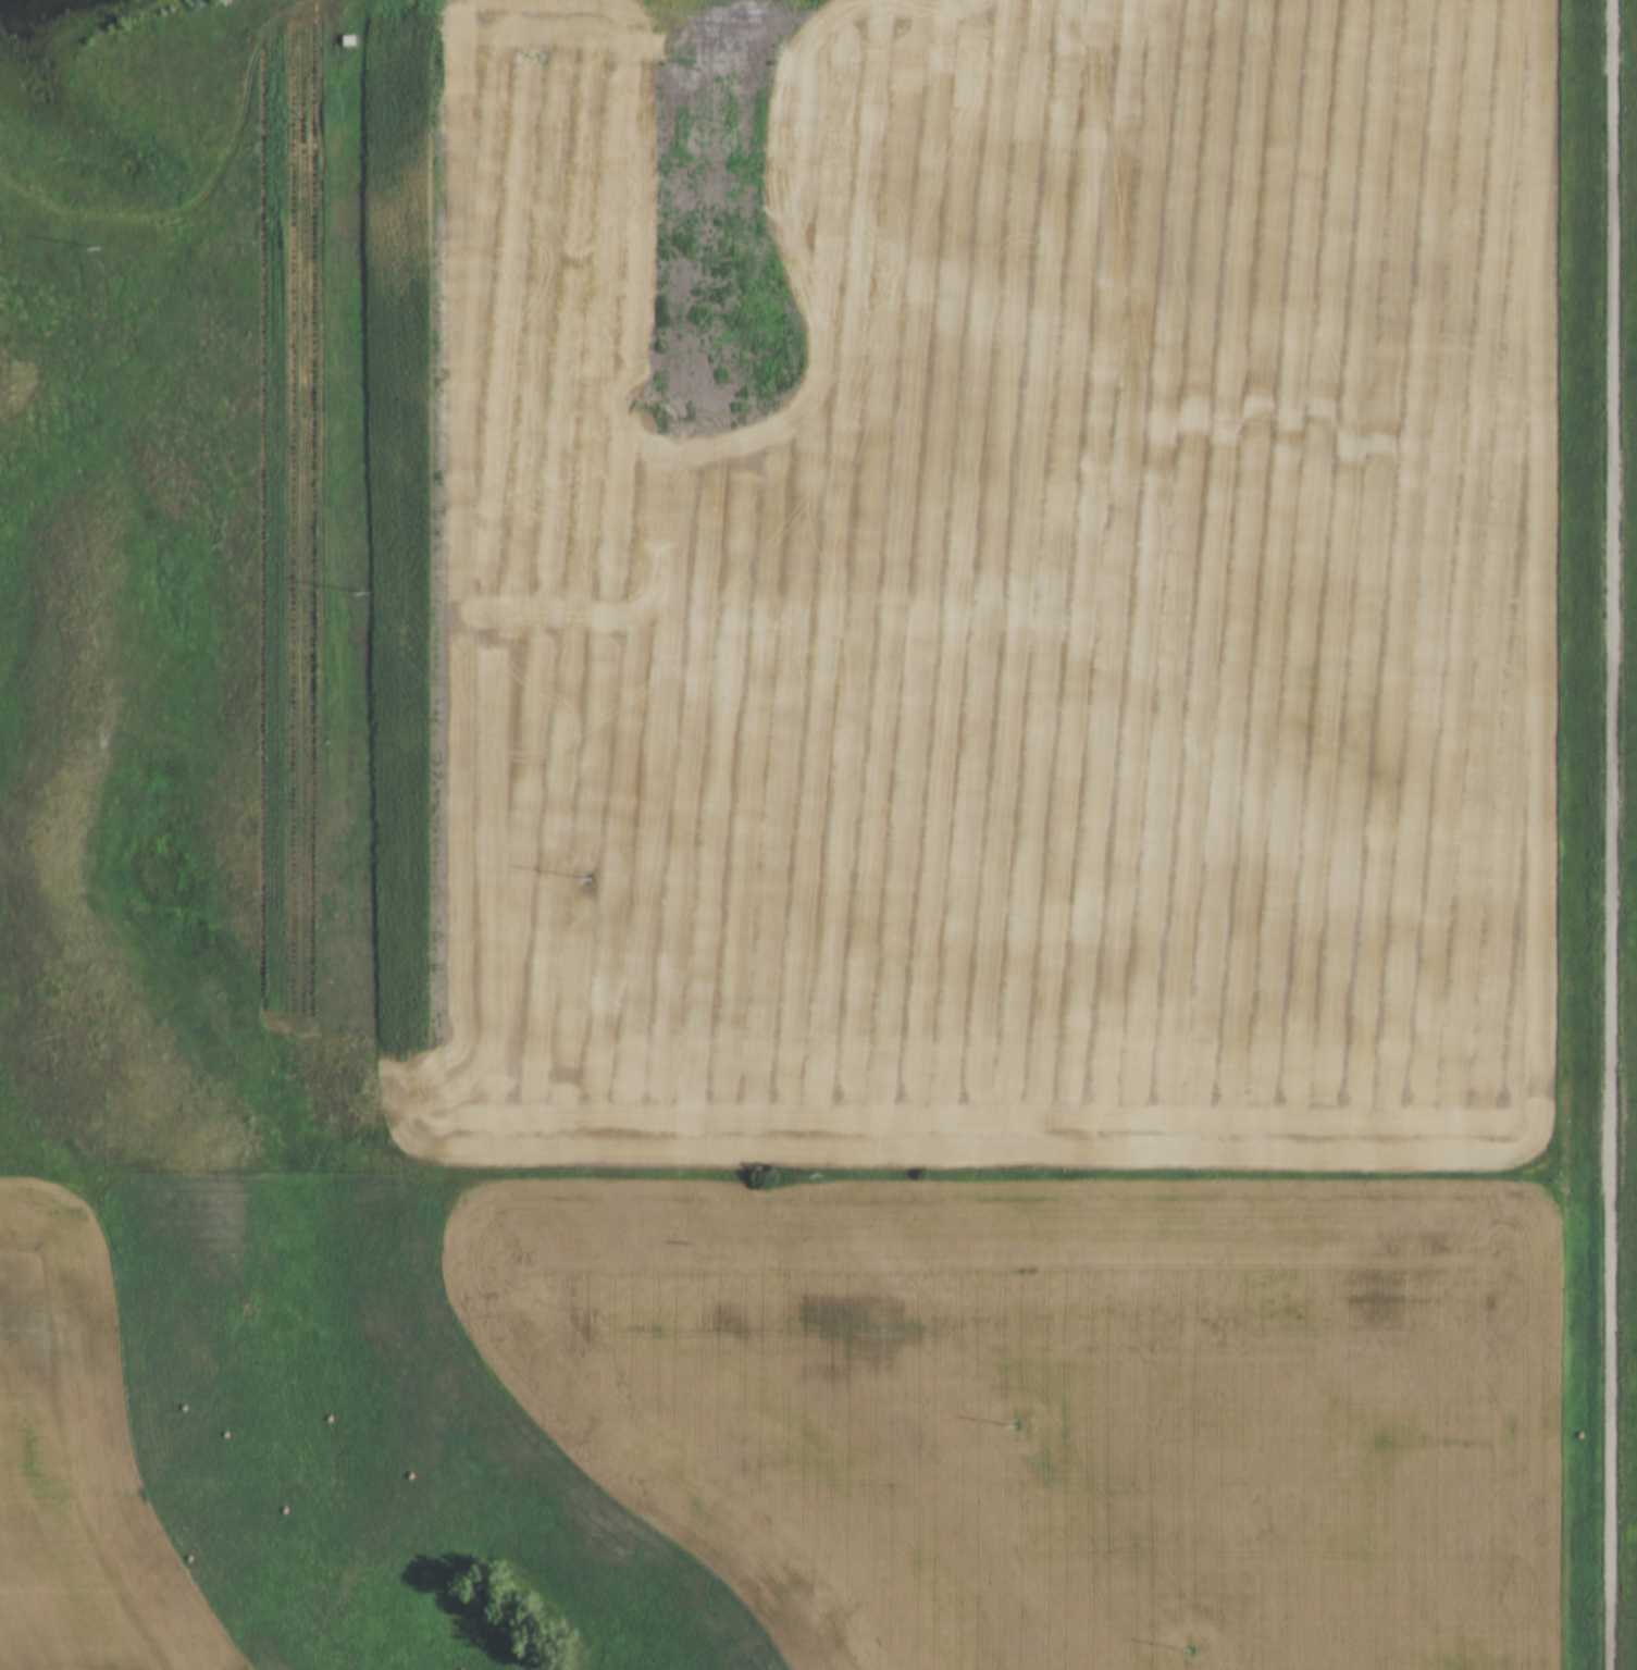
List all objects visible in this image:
road: (1613, 834)

